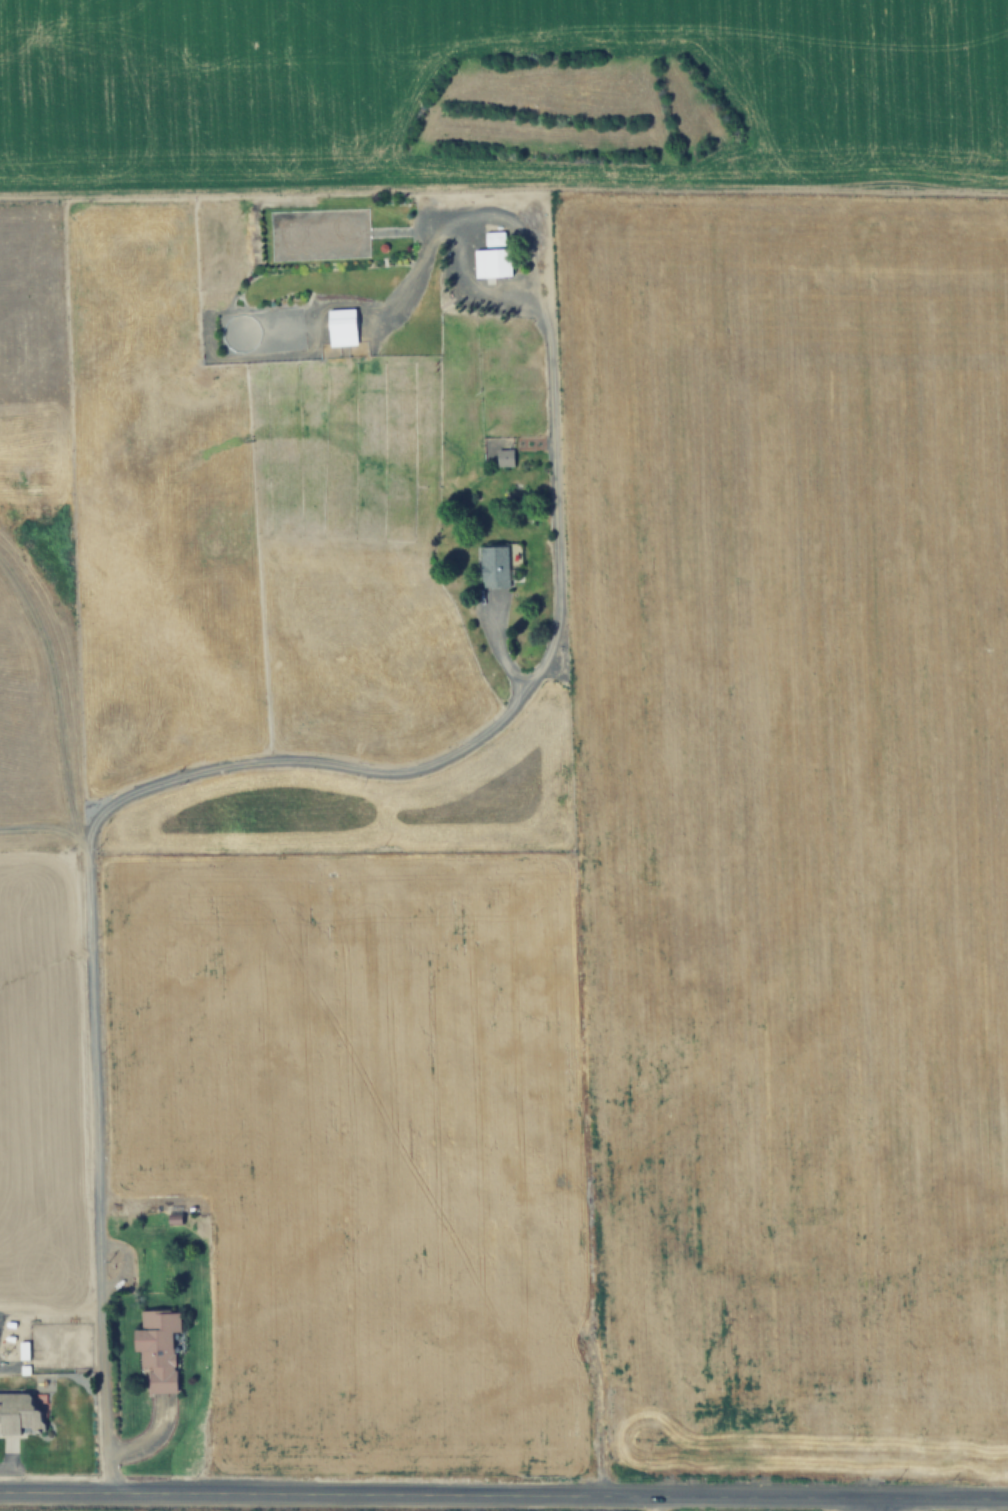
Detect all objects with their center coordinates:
building: (343, 327)
building: (506, 457)
road: (557, 503)
building: (499, 563)
road: (90, 899)
building: (160, 1349)
building: (23, 1413)
road: (504, 1496)
road: (870, 1505)
crop: (954, 1510)

